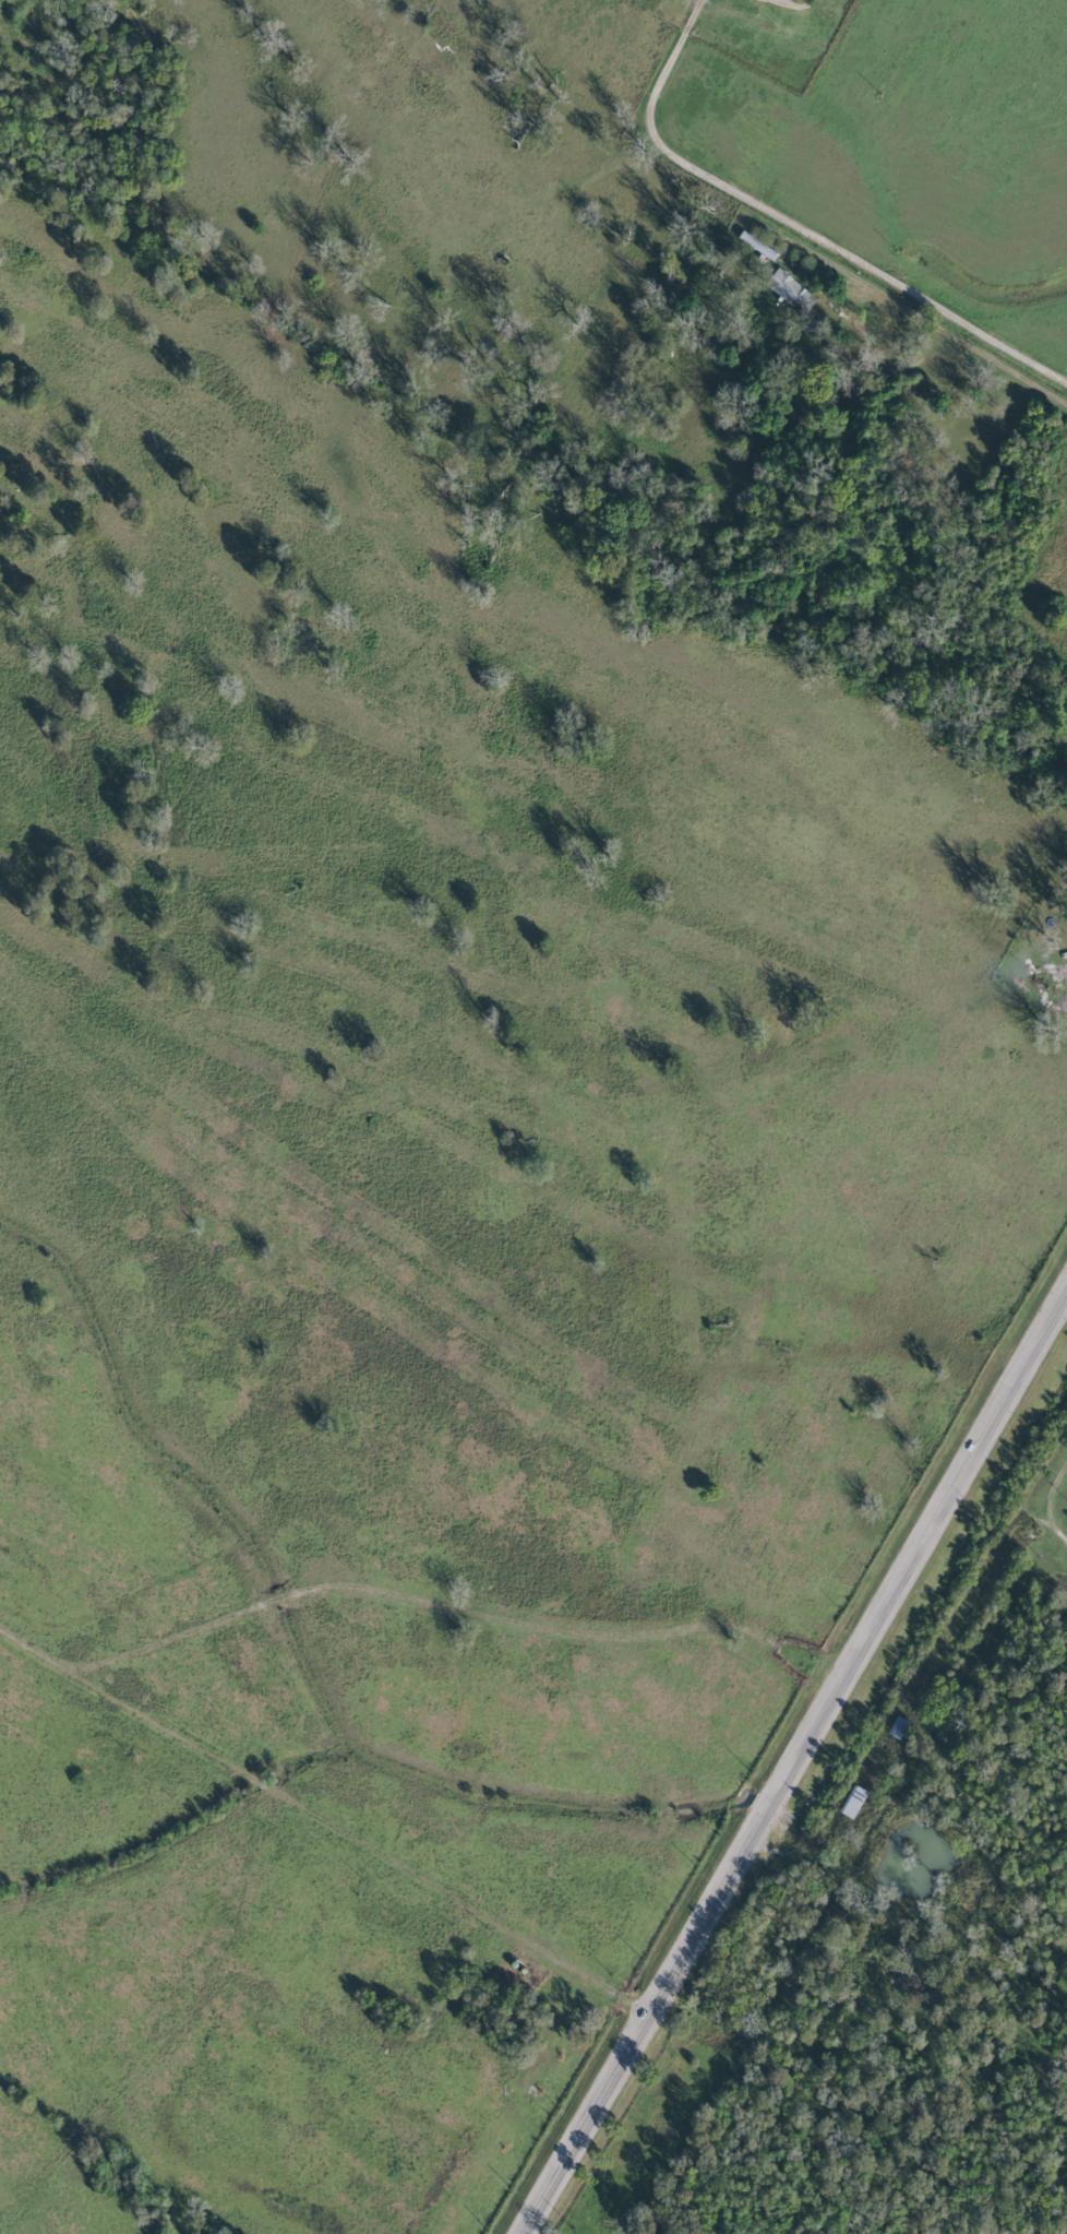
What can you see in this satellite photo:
road: (792, 227)
building: (789, 289)
road: (916, 1691)
building: (897, 1727)
road: (794, 1764)
building: (853, 1802)
road: (328, 1816)

